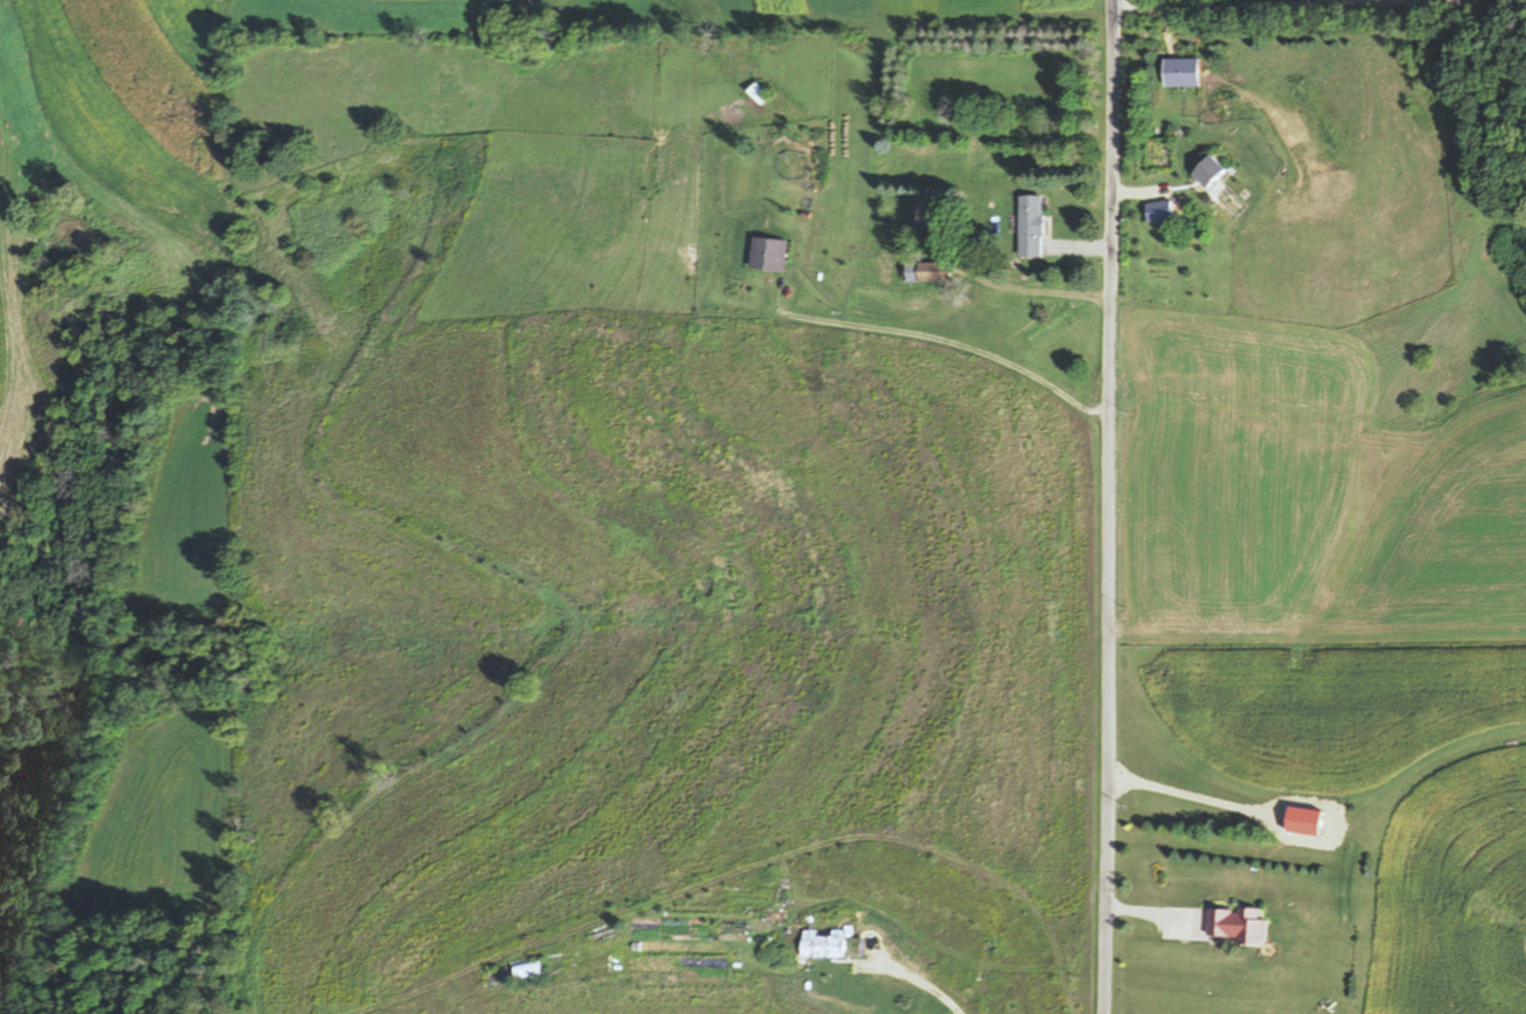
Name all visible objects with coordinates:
road: (1232, 4)
building: (758, 94)
building: (1207, 171)
building: (1159, 210)
building: (1030, 227)
building: (767, 255)
building: (926, 273)
road: (944, 337)
road: (1110, 506)
building: (1235, 926)
building: (835, 944)
building: (528, 971)

